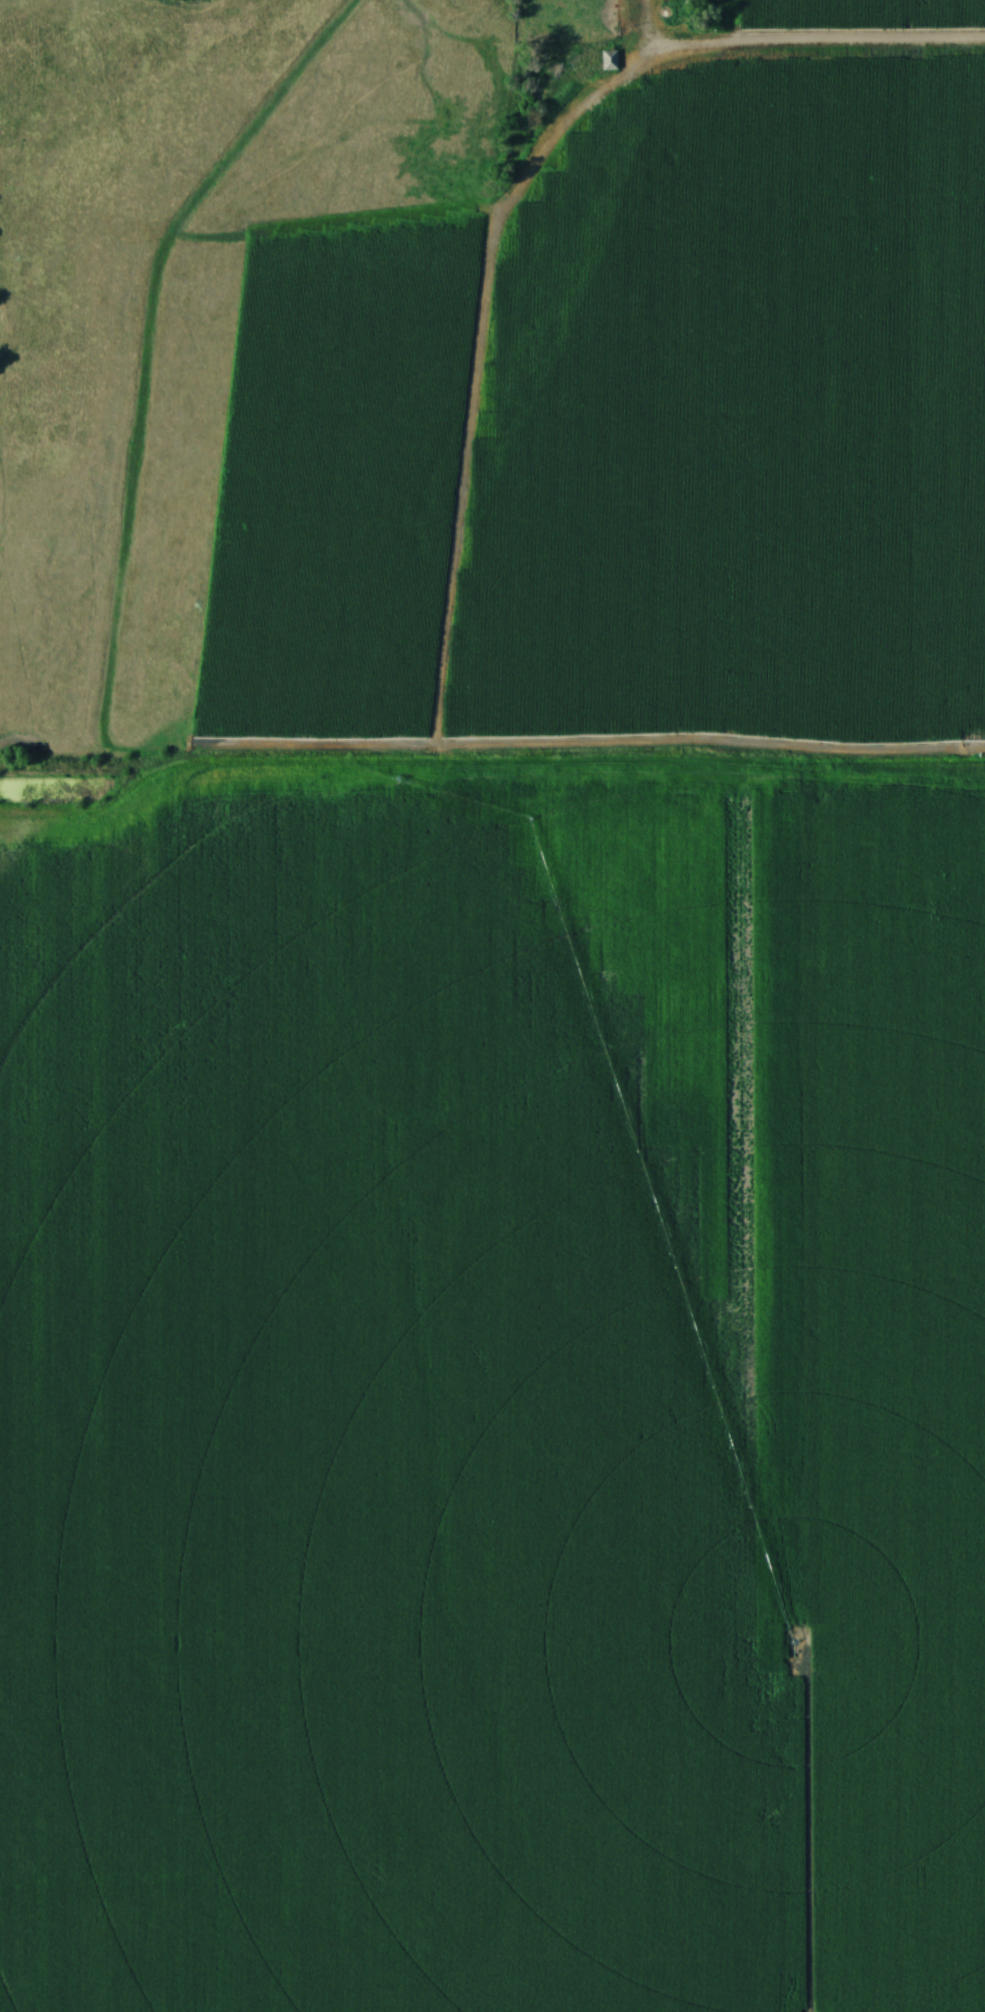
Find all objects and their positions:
road: (806, 43)
building: (610, 61)

